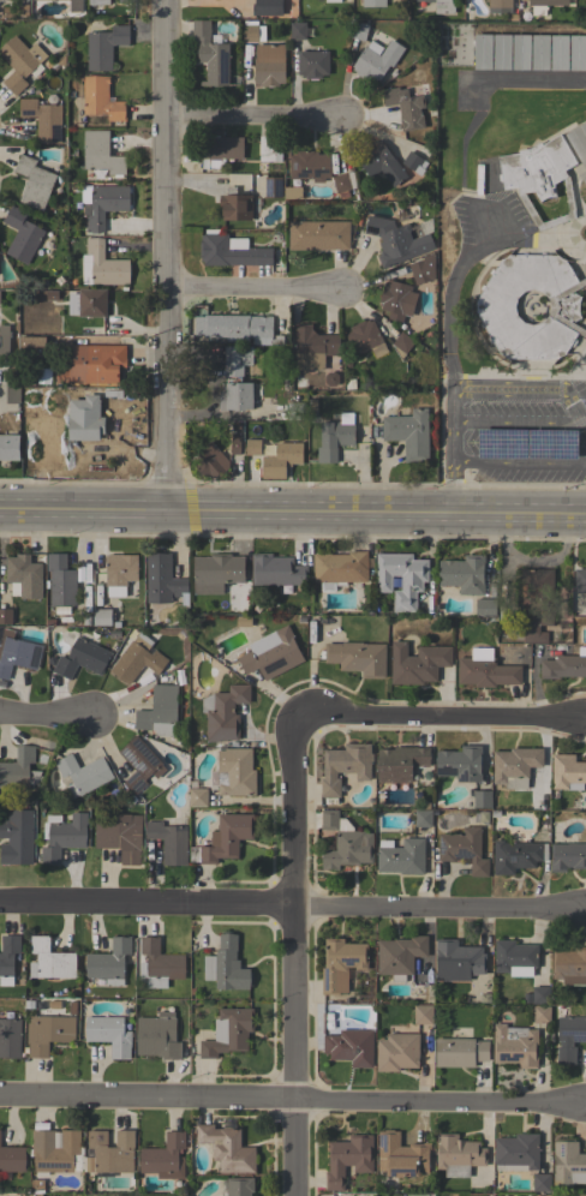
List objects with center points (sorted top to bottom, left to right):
building: (31, 0)
building: (126, 1)
building: (331, 1)
building: (98, 2)
building: (373, 2)
building: (500, 4)
building: (73, 5)
building: (544, 5)
building: (442, 6)
building: (267, 7)
building: (298, 30)
building: (359, 30)
building: (252, 32)
building: (104, 47)
building: (483, 52)
building: (502, 52)
building: (521, 52)
building: (540, 52)
building: (560, 52)
building: (211, 53)
building: (578, 53)
building: (376, 60)
building: (19, 62)
building: (312, 64)
building: (269, 65)
building: (101, 98)
building: (405, 107)
road: (258, 118)
building: (43, 119)
building: (579, 140)
building: (221, 146)
building: (268, 146)
building: (101, 153)
building: (381, 162)
building: (414, 162)
building: (310, 166)
building: (584, 177)
building: (542, 180)
building: (36, 183)
building: (341, 185)
building: (273, 186)
building: (292, 193)
building: (103, 203)
building: (235, 205)
building: (318, 234)
building: (22, 235)
building: (395, 240)
building: (231, 251)
road: (171, 255)
building: (102, 265)
building: (423, 270)
road: (258, 291)
building: (50, 295)
building: (395, 299)
road: (447, 300)
building: (88, 303)
building: (531, 306)
building: (240, 328)
building: (365, 339)
building: (6, 341)
building: (402, 343)
building: (32, 345)
building: (315, 348)
building: (102, 363)
building: (235, 379)
road: (468, 388)
building: (11, 393)
building: (295, 411)
building: (85, 418)
building: (408, 433)
building: (335, 437)
building: (526, 443)
building: (235, 444)
building: (10, 447)
building: (253, 447)
building: (210, 461)
road: (521, 462)
building: (274, 467)
road: (292, 510)
building: (340, 567)
building: (120, 569)
building: (276, 570)
building: (23, 573)
building: (216, 573)
building: (464, 574)
building: (401, 578)
building: (162, 579)
building: (580, 580)
building: (61, 581)
building: (537, 604)
building: (485, 608)
building: (6, 616)
building: (102, 616)
building: (17, 653)
building: (271, 653)
building: (82, 658)
building: (137, 658)
building: (358, 658)
building: (417, 663)
building: (564, 665)
building: (485, 670)
building: (160, 712)
building: (225, 712)
road: (44, 713)
road: (442, 718)
building: (401, 763)
building: (139, 764)
building: (460, 764)
building: (345, 766)
building: (515, 766)
building: (18, 769)
building: (235, 772)
building: (567, 772)
building: (83, 773)
building: (198, 796)
building: (482, 800)
building: (423, 818)
building: (62, 836)
building: (17, 837)
building: (121, 837)
building: (225, 838)
building: (169, 842)
building: (345, 843)
building: (464, 849)
building: (516, 855)
building: (401, 856)
building: (568, 856)
road: (288, 909)
road: (295, 953)
building: (400, 956)
building: (514, 957)
building: (8, 958)
building: (50, 959)
building: (458, 961)
building: (109, 962)
building: (160, 963)
building: (341, 964)
building: (227, 965)
building: (569, 965)
building: (540, 994)
building: (423, 1013)
building: (540, 1013)
building: (228, 1031)
building: (48, 1033)
building: (109, 1034)
building: (10, 1037)
building: (157, 1037)
building: (569, 1037)
building: (515, 1046)
building: (351, 1047)
building: (397, 1052)
building: (460, 1052)
road: (292, 1101)
road: (585, 1106)
building: (227, 1148)
building: (55, 1152)
building: (109, 1152)
building: (516, 1152)
building: (401, 1155)
building: (458, 1155)
building: (165, 1156)
building: (12, 1159)
building: (348, 1159)
building: (568, 1164)
building: (542, 1183)
building: (36, 1186)
building: (239, 1186)

